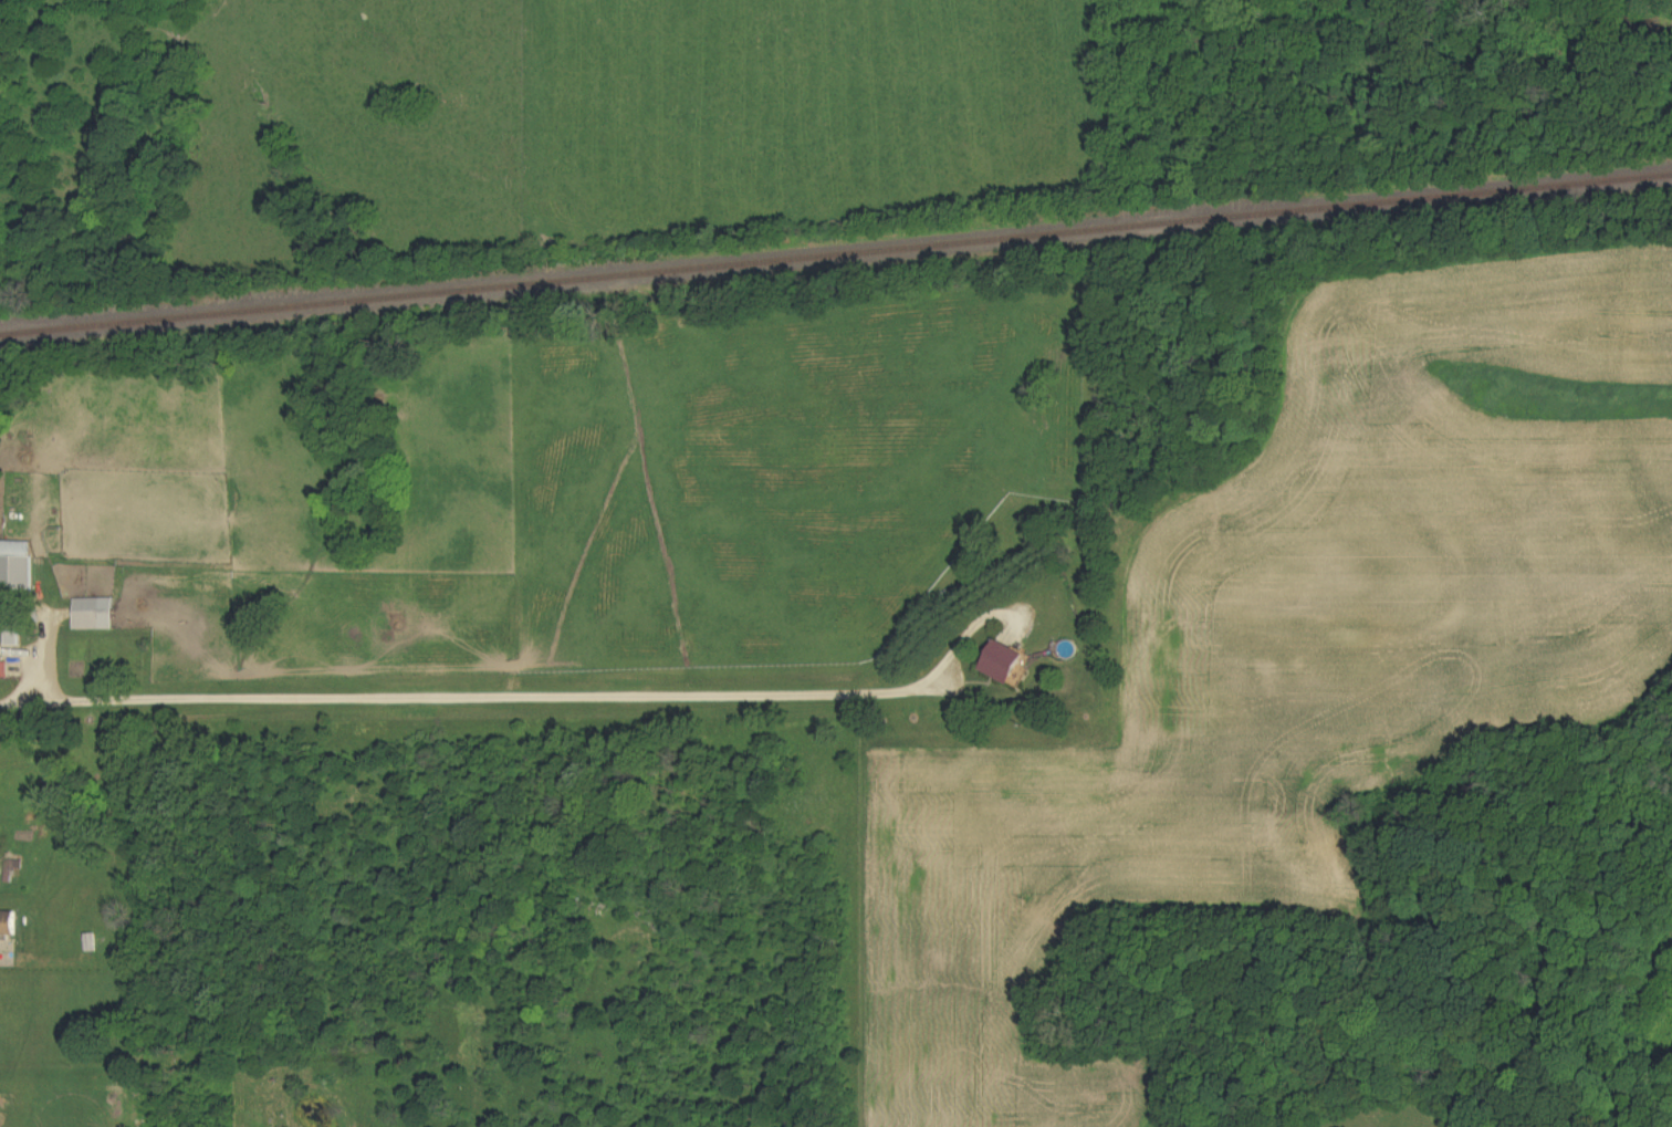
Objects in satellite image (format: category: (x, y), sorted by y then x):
railway: (836, 253)
building: (17, 568)
building: (96, 614)
building: (1005, 662)
building: (1, 670)
road: (554, 696)
road: (30, 698)
building: (9, 923)

